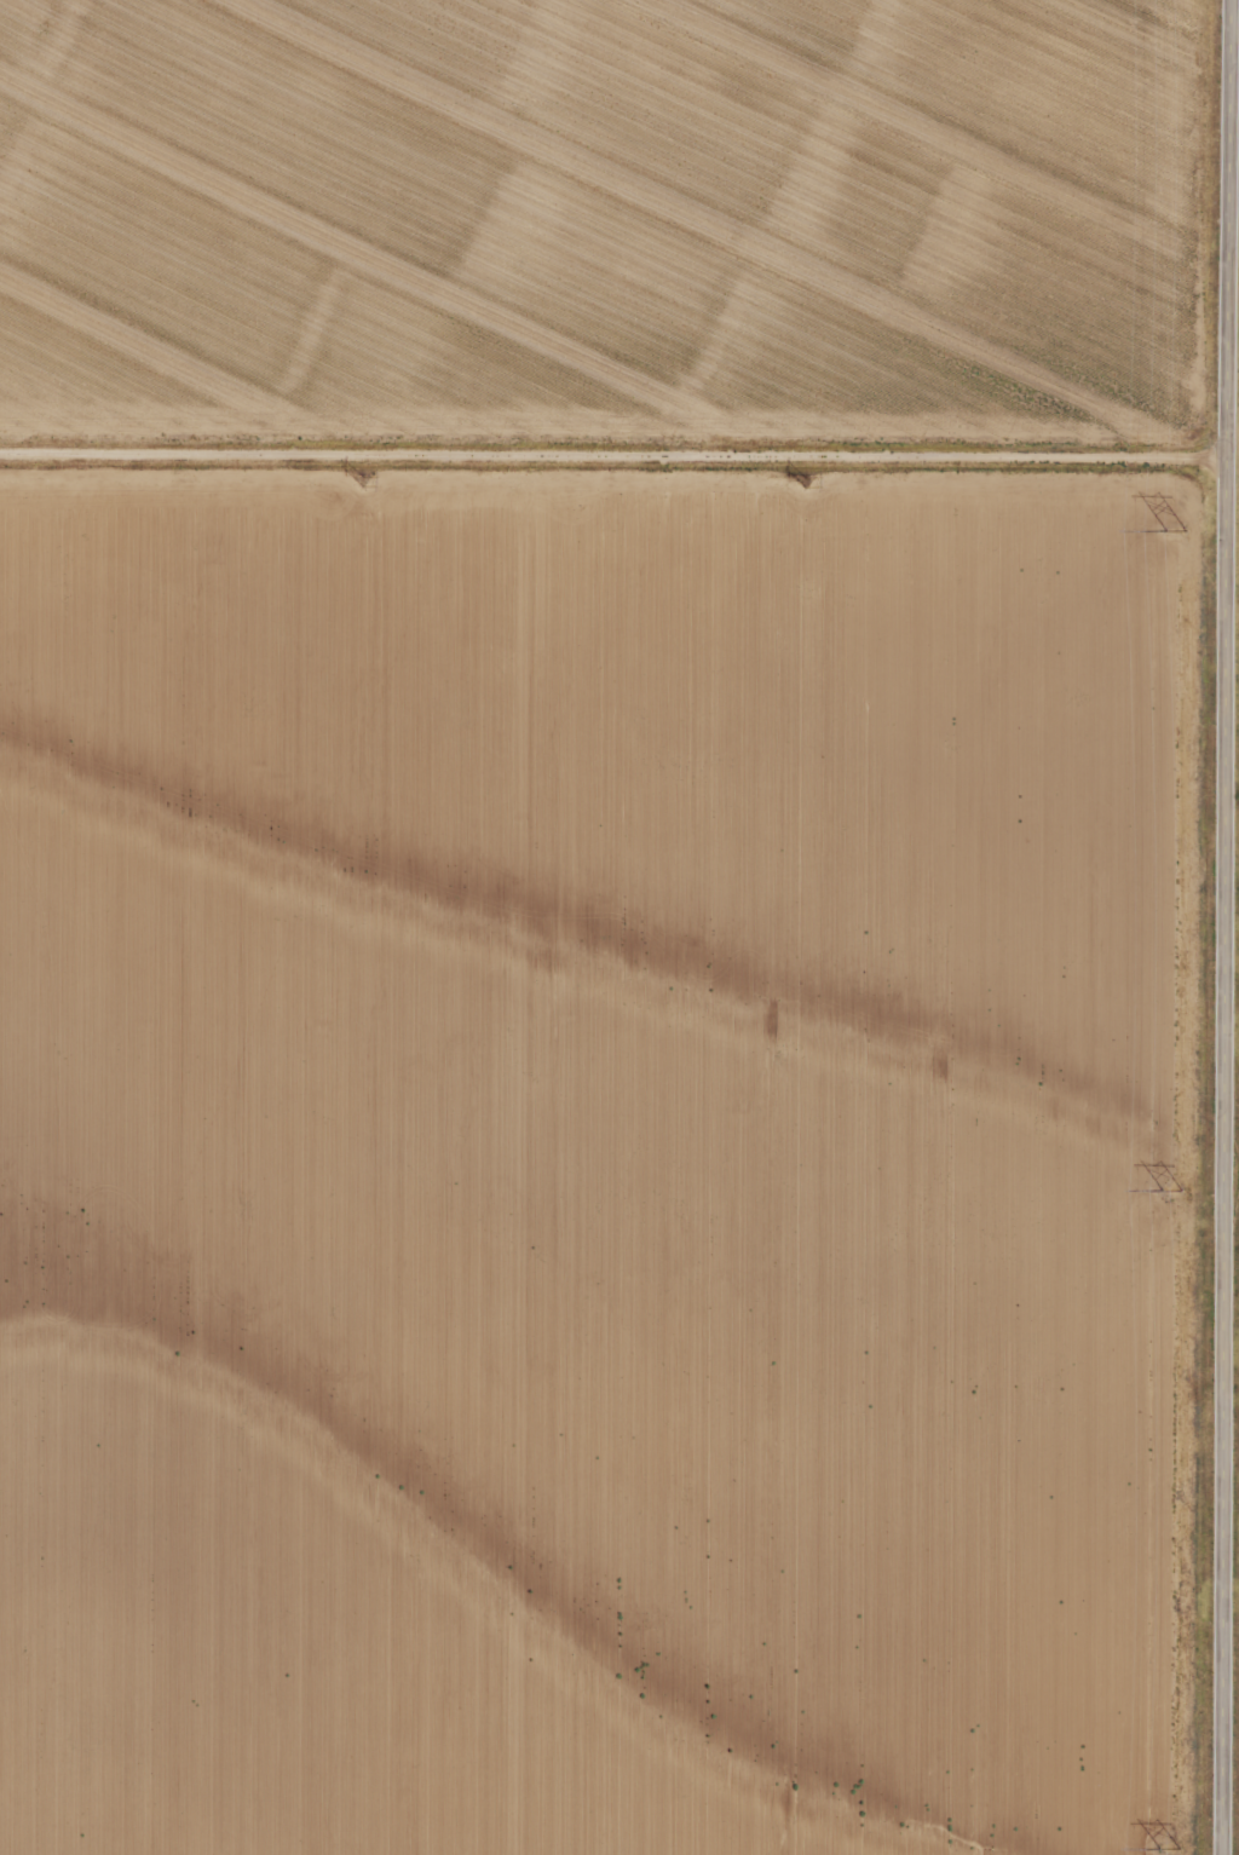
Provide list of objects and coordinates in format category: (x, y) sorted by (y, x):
road: (613, 459)
road: (1233, 459)
power tower: (797, 476)
power tower: (356, 477)
power tower: (1180, 529)
road: (1224, 927)
power tower: (1175, 1186)
power tower: (1174, 1845)

